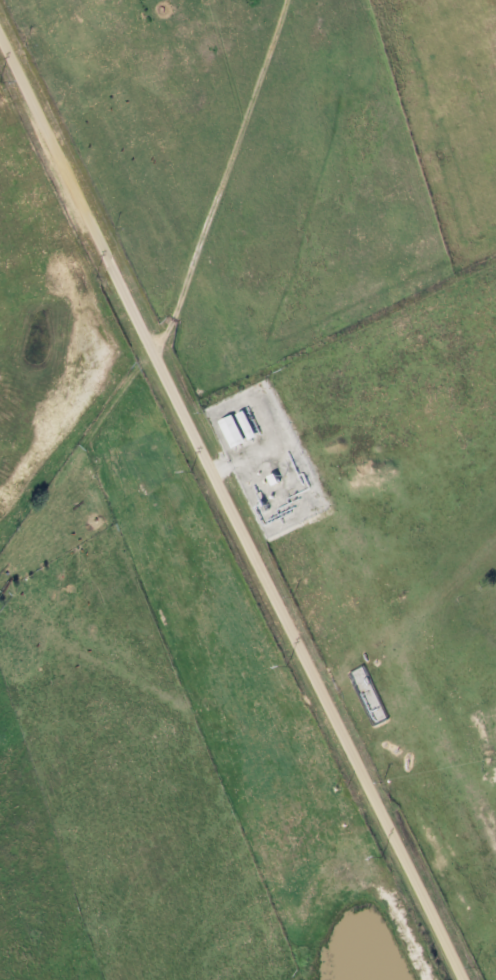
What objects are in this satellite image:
road: (225, 179)
building: (237, 427)
road: (231, 508)
building: (365, 696)

